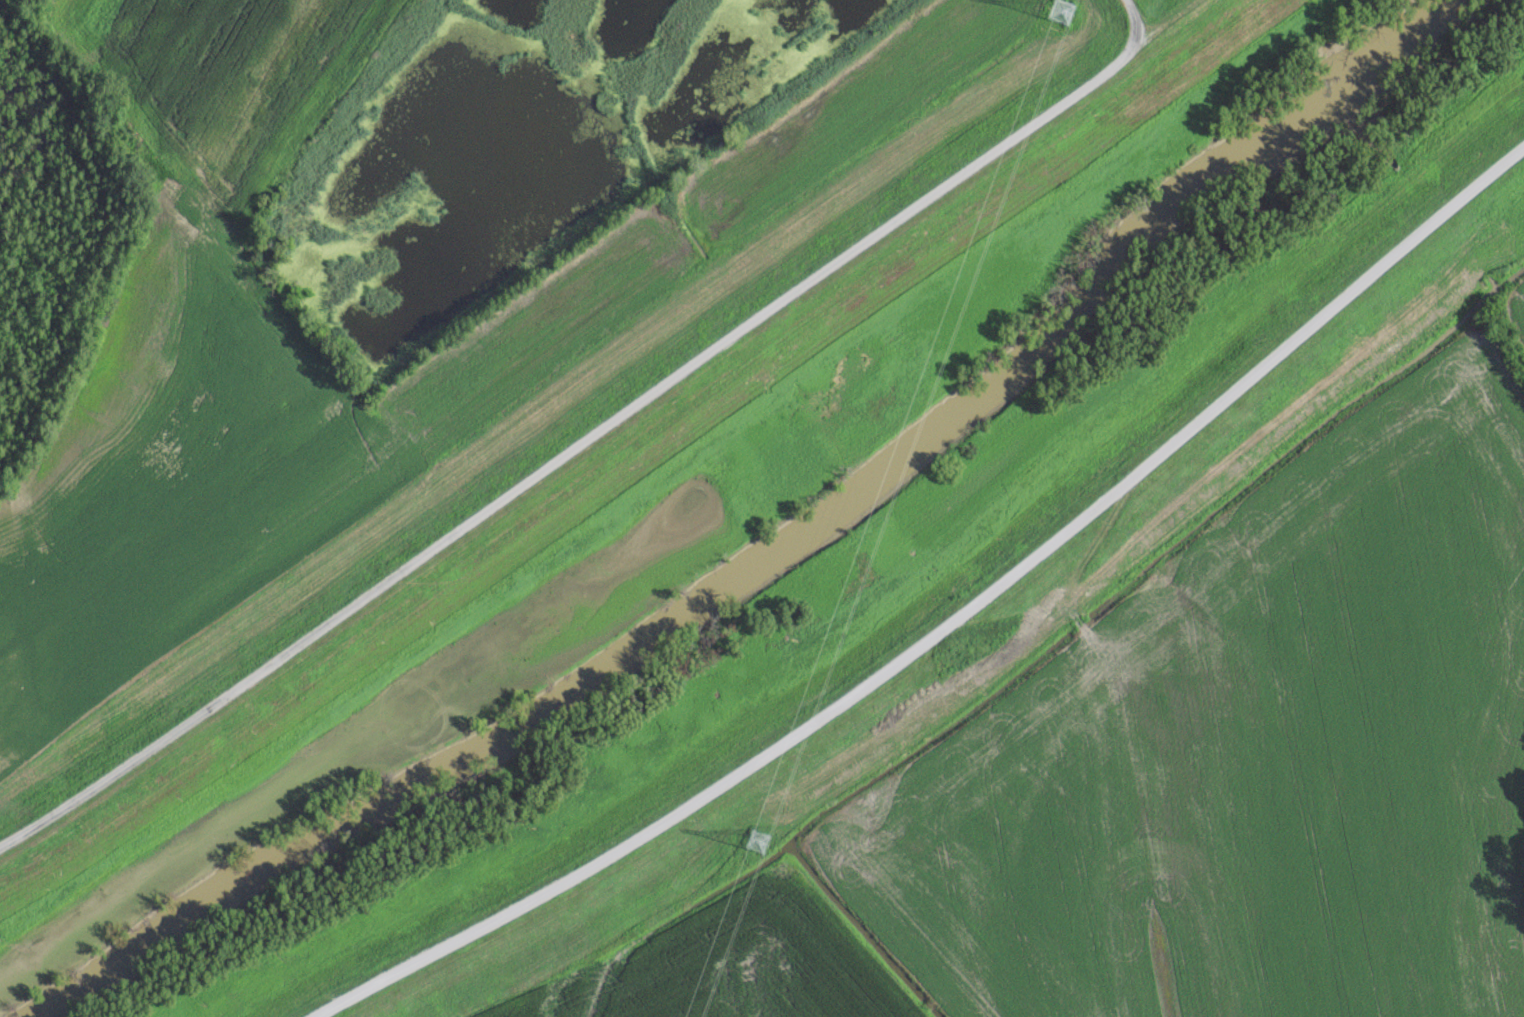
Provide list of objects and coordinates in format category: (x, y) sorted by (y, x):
power tower: (1061, 16)
road: (589, 434)
road: (946, 622)
power tower: (759, 835)

